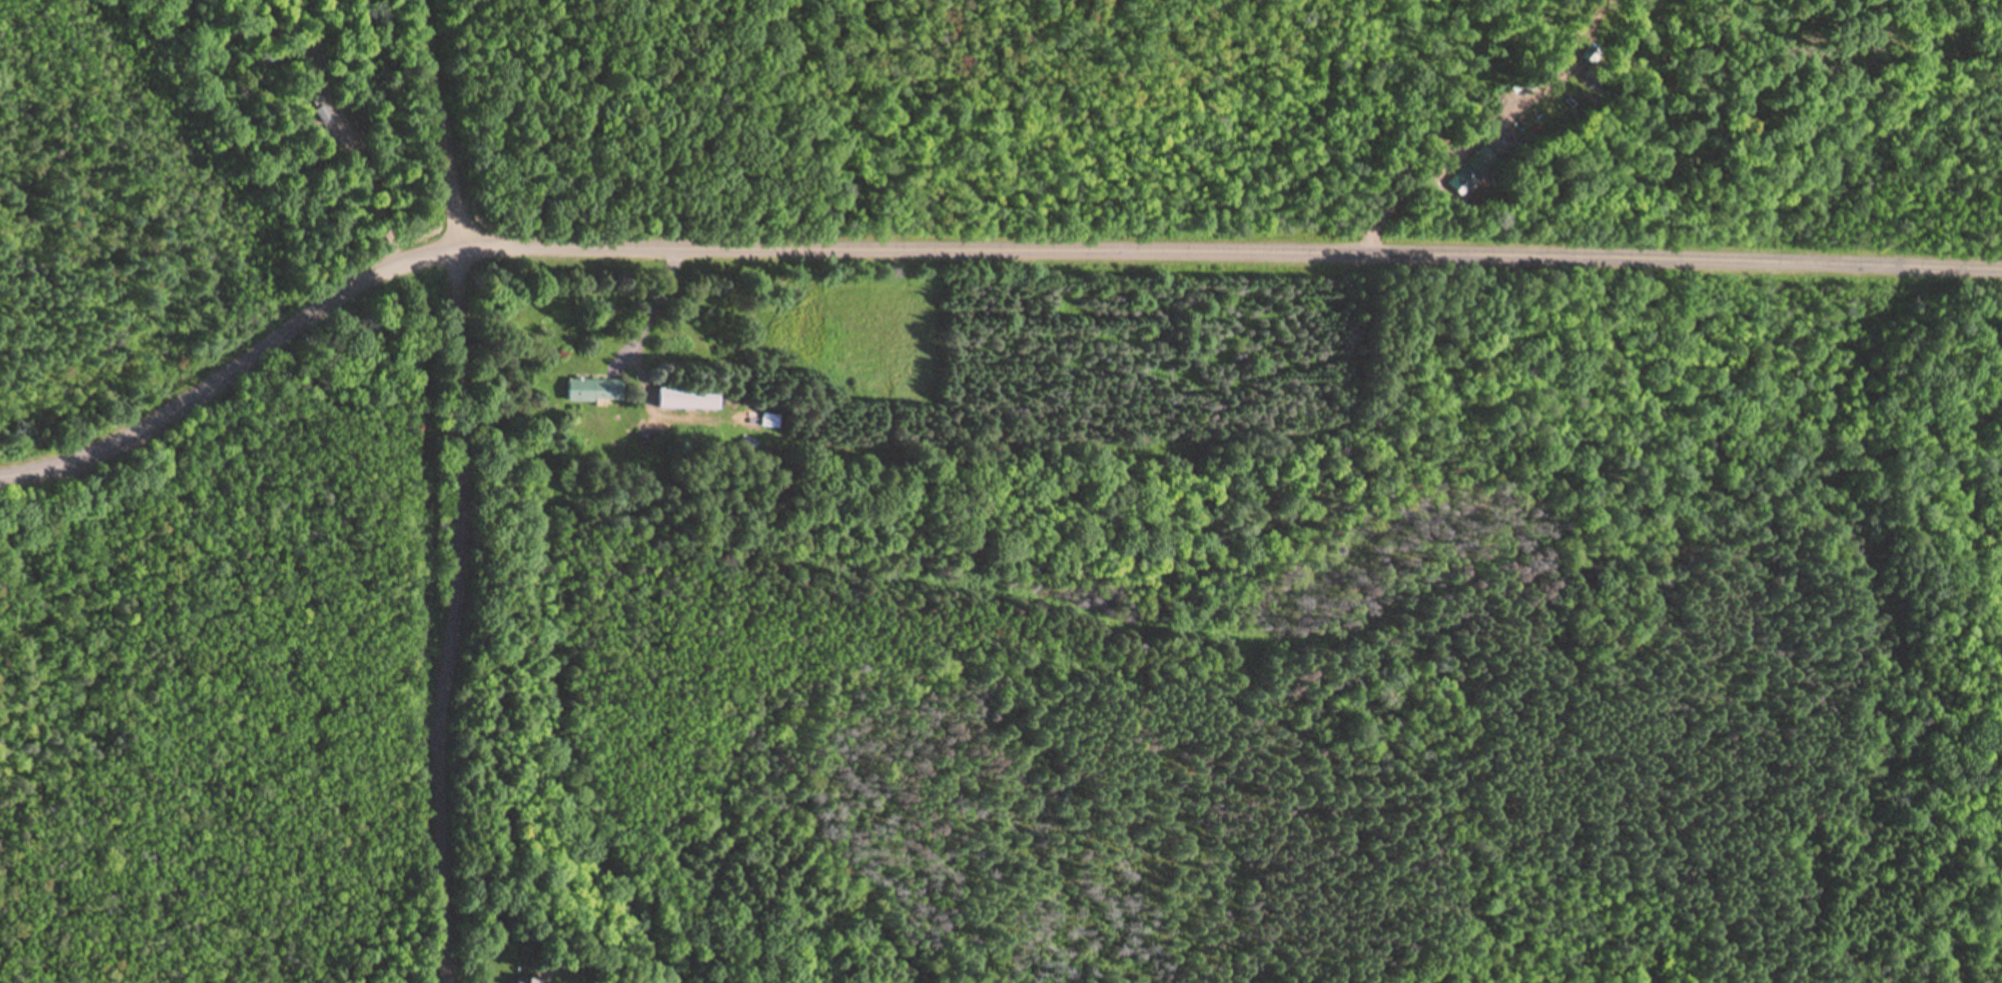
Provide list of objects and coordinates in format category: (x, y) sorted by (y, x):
road: (441, 122)
road: (970, 244)
building: (598, 389)
building: (693, 399)
road: (458, 614)
building: (526, 981)

